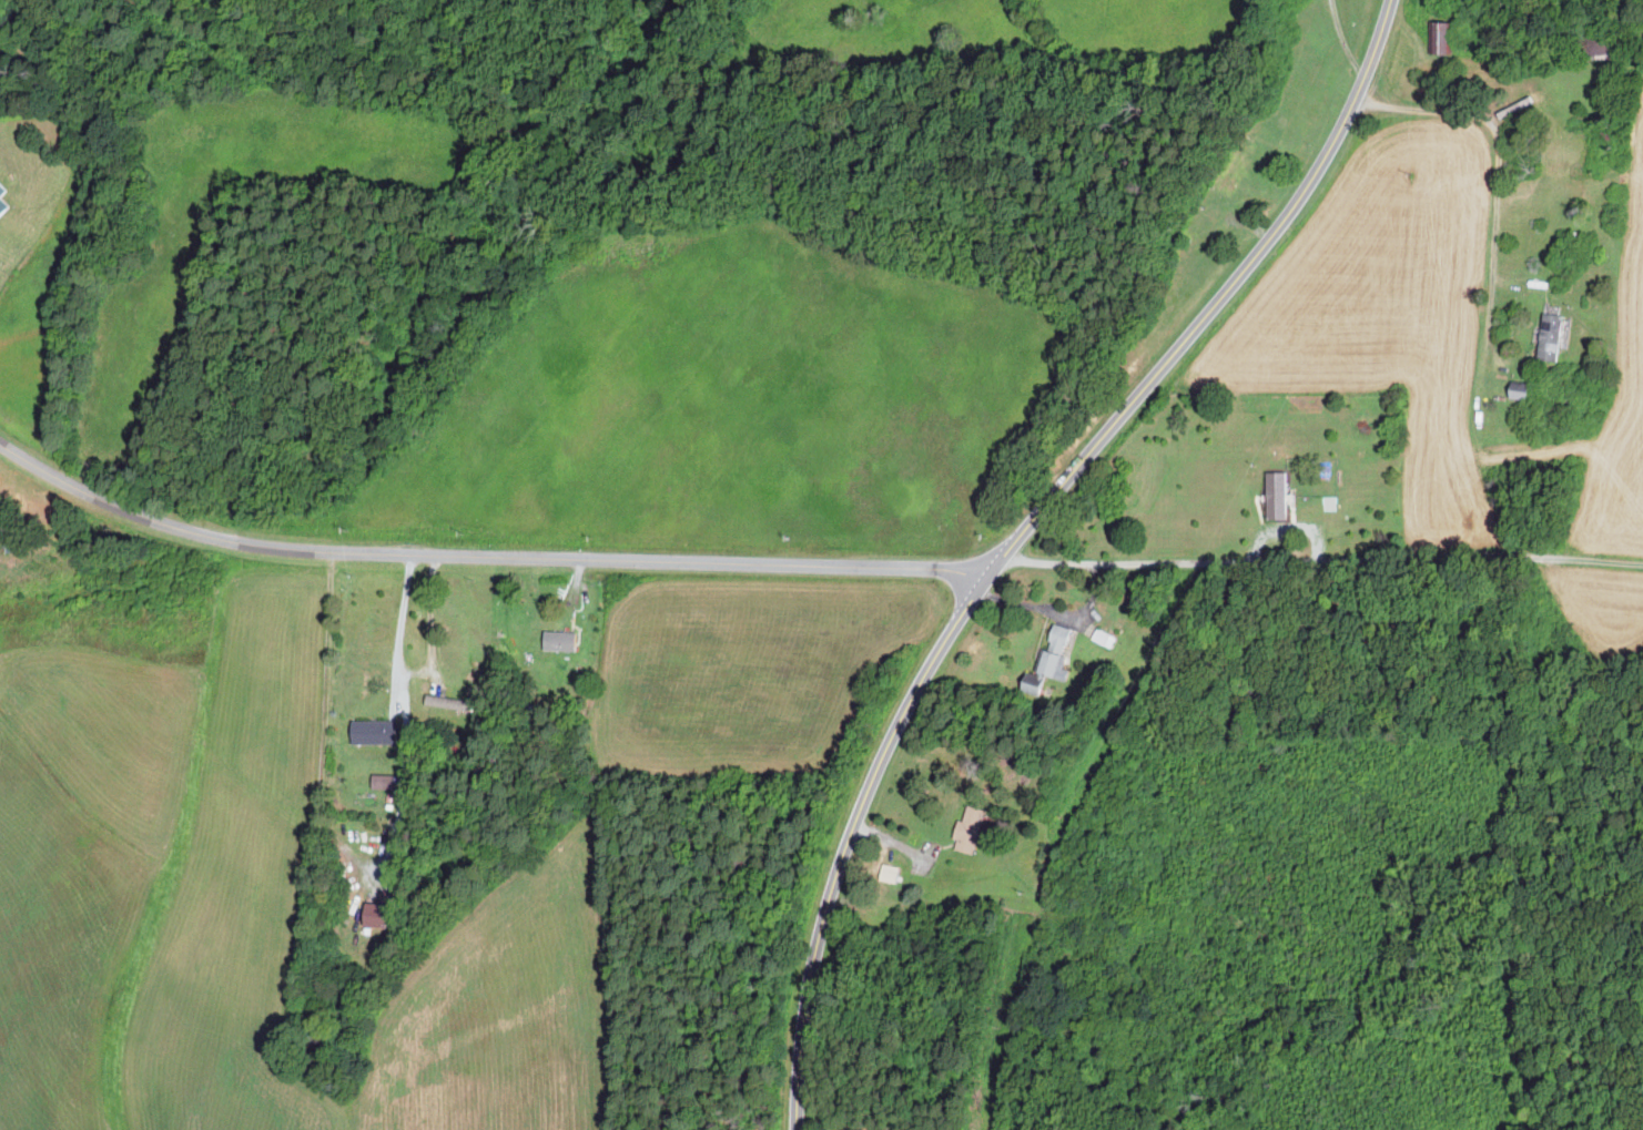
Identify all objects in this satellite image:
building: (1436, 37)
road: (1343, 41)
building: (1598, 43)
road: (1498, 159)
building: (1, 200)
building: (1549, 336)
building: (1274, 495)
road: (1025, 532)
road: (484, 553)
road: (1323, 573)
road: (1056, 613)
road: (397, 624)
building: (1103, 638)
building: (557, 640)
building: (1046, 659)
building: (442, 710)
building: (371, 731)
building: (381, 782)
building: (967, 829)
building: (886, 873)
building: (371, 915)

